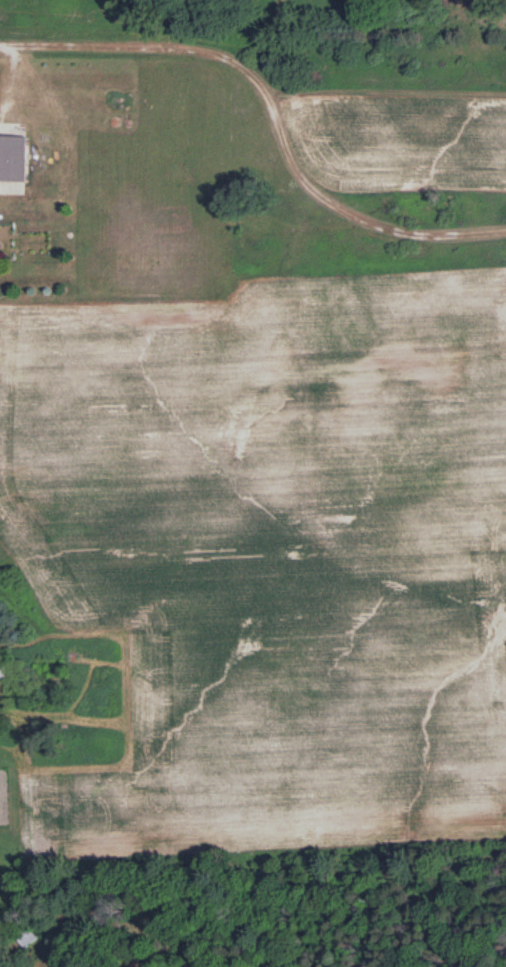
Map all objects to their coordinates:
road: (5, 70)
building: (13, 156)
building: (3, 666)
building: (28, 933)

